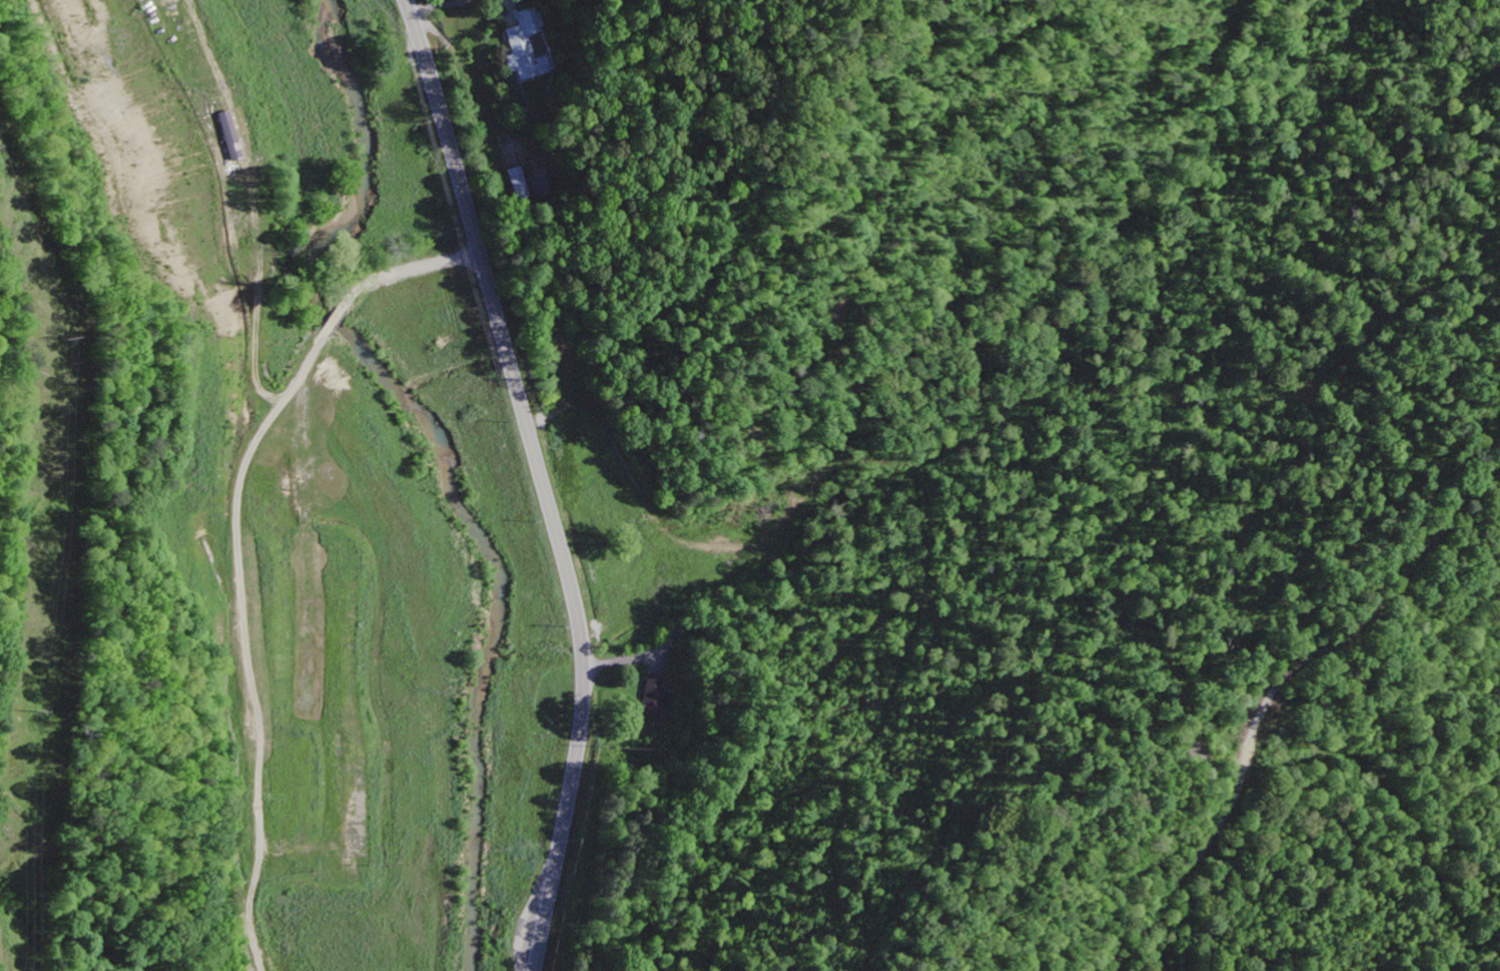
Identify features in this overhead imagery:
building: (528, 49)
building: (229, 137)
building: (520, 185)
building: (544, 187)
road: (415, 271)
road: (337, 321)
road: (542, 480)
road: (245, 648)
road: (1275, 692)
building: (657, 698)

